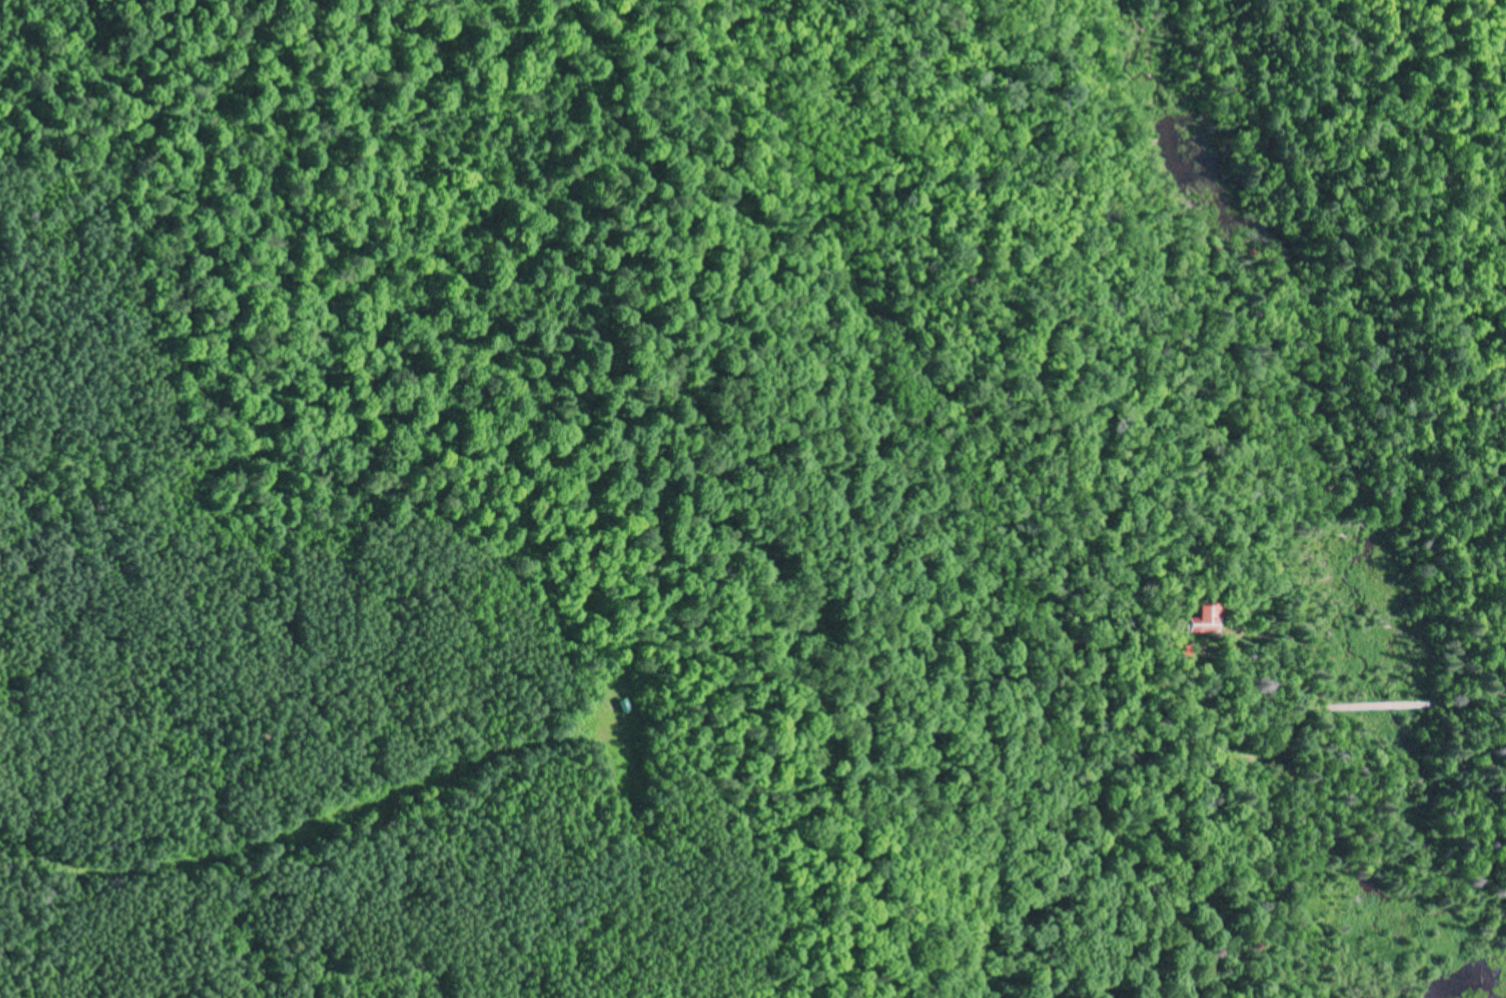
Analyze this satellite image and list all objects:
building: (1204, 617)
building: (1186, 652)

